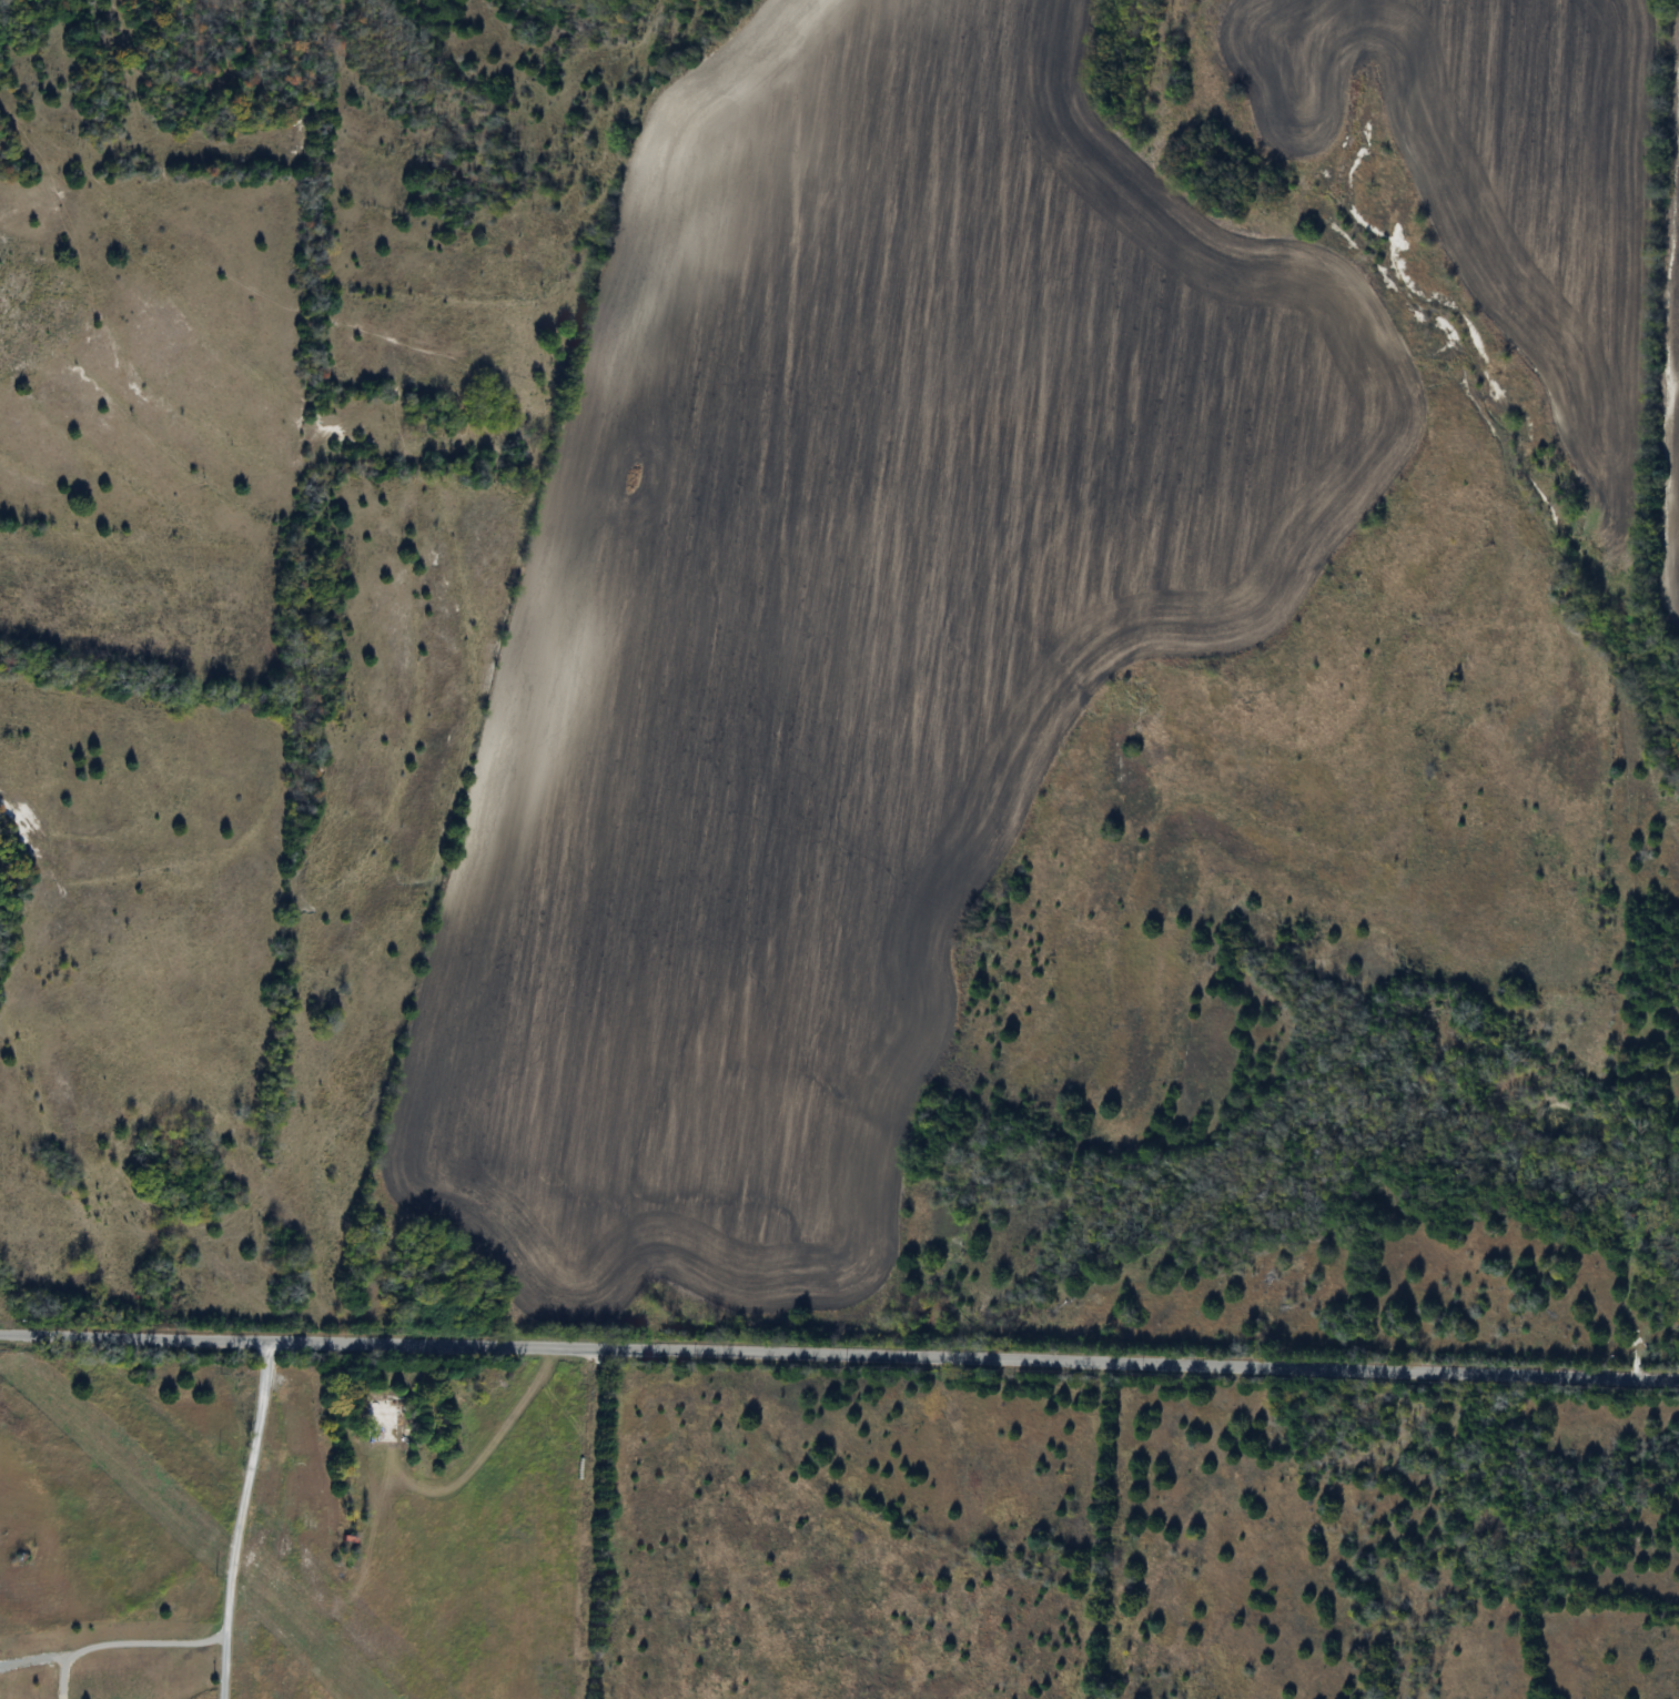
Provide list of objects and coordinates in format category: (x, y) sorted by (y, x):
road: (839, 1354)
building: (384, 1420)
road: (239, 1519)
road: (111, 1642)

